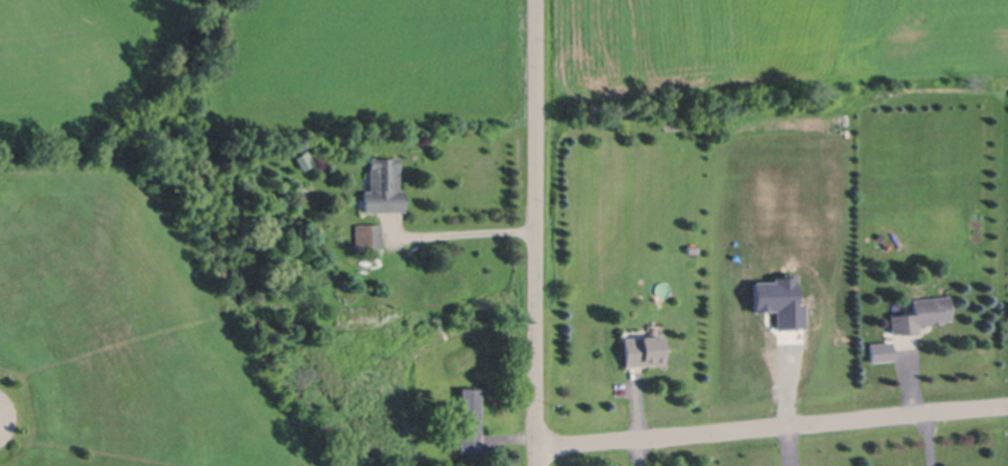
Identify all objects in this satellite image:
crop: (761, 48)
building: (305, 159)
building: (384, 185)
road: (462, 229)
road: (536, 233)
building: (368, 235)
building: (412, 251)
building: (923, 314)
building: (645, 349)
building: (471, 419)
road: (772, 425)

